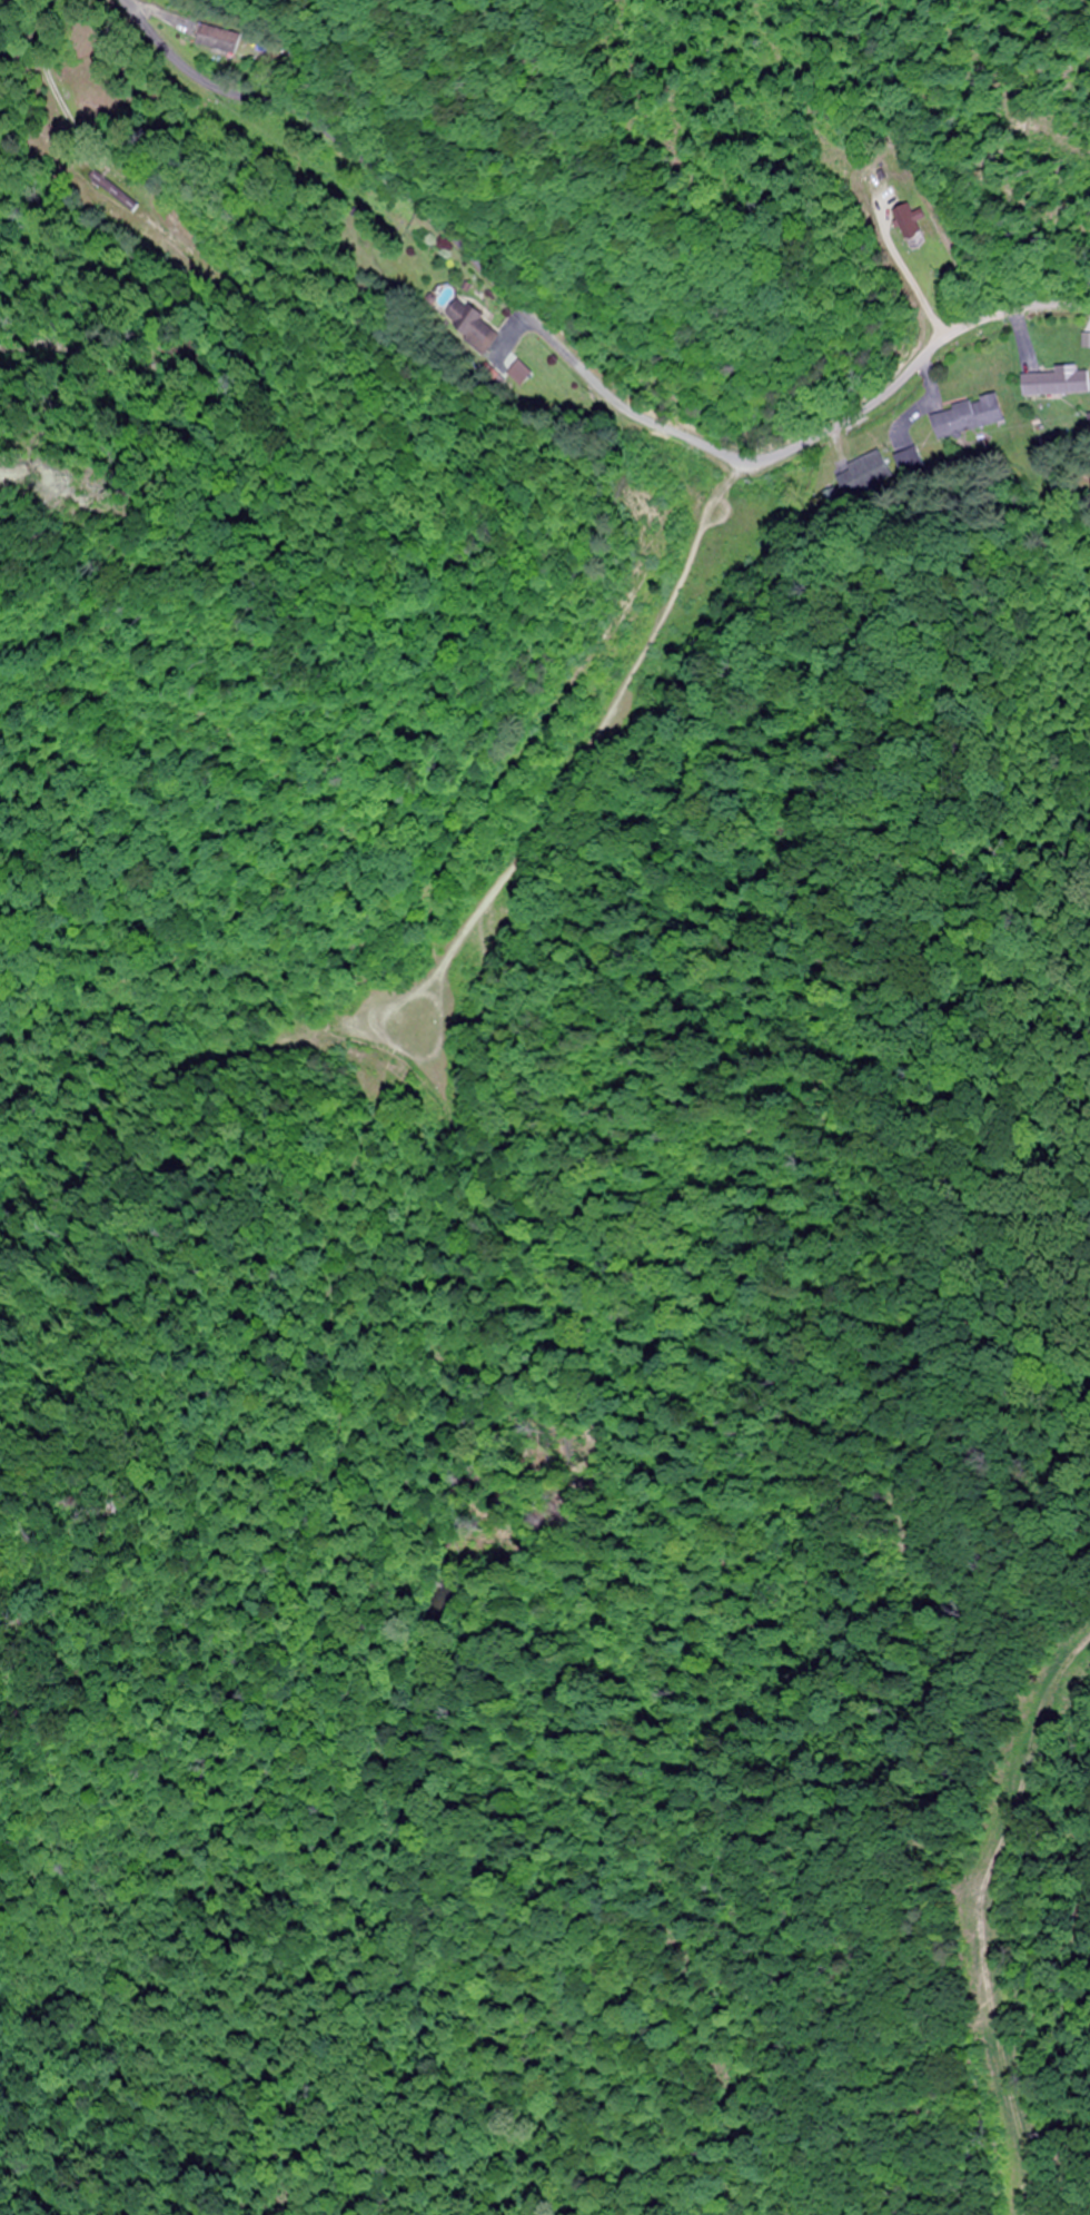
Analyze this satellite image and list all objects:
building: (226, 39)
building: (96, 181)
building: (911, 226)
building: (473, 323)
road: (581, 357)
building: (1060, 384)
building: (972, 417)

